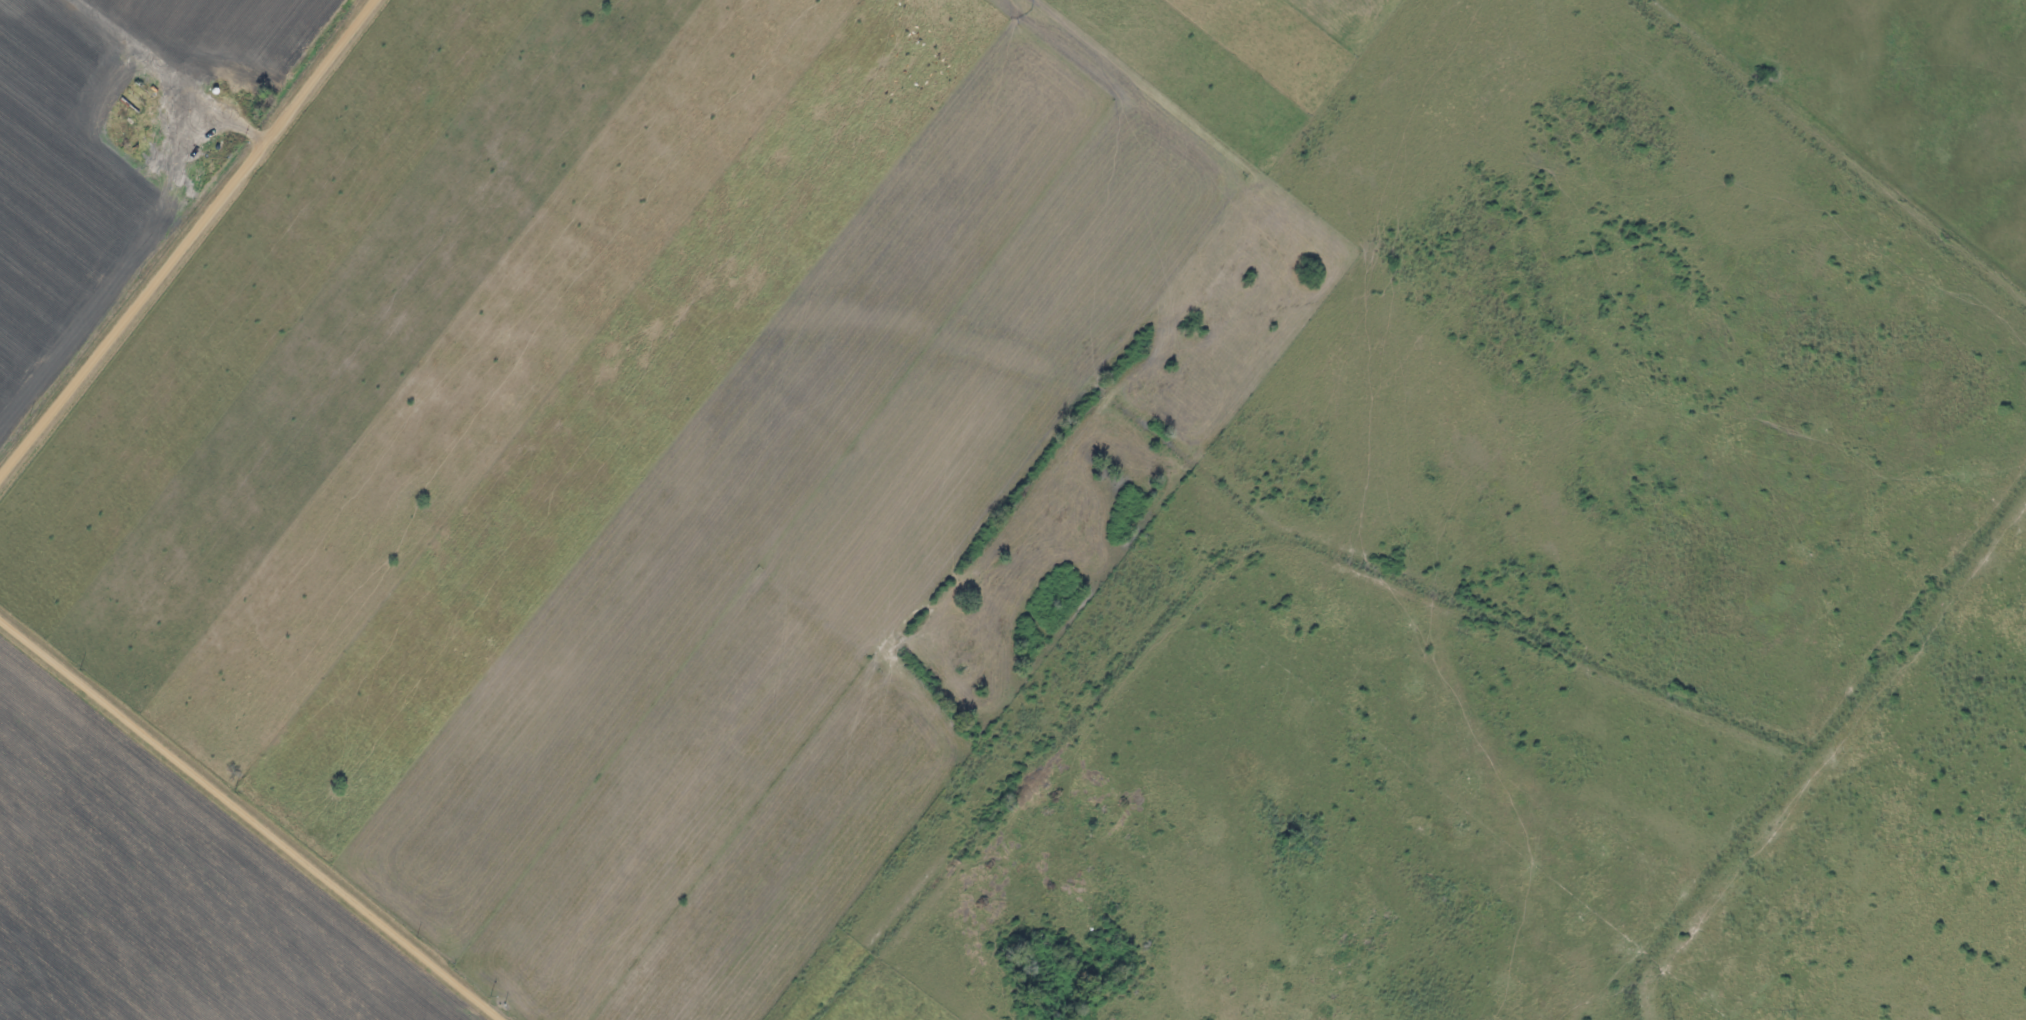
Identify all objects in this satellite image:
road: (187, 239)
road: (252, 817)

